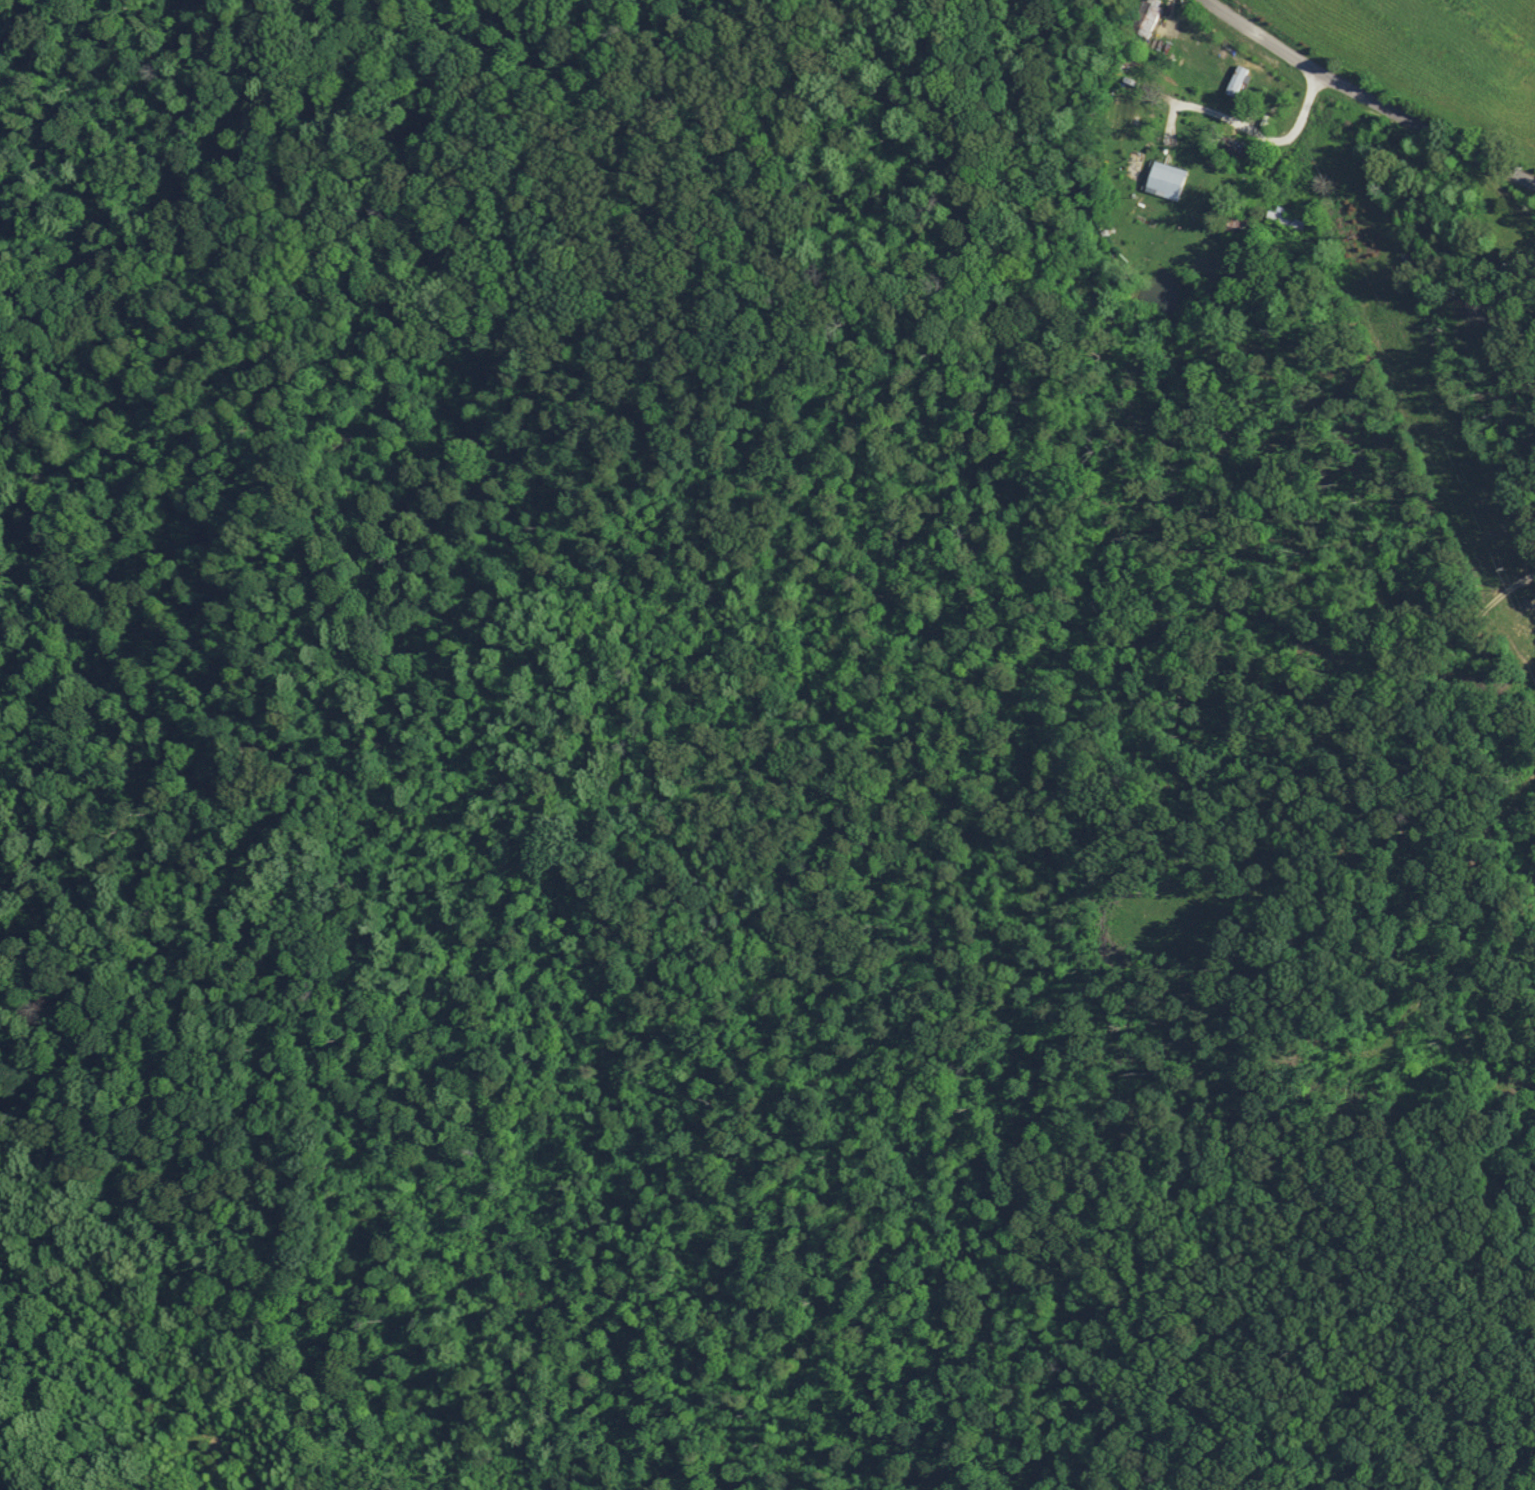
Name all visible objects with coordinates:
building: (1144, 16)
road: (1234, 20)
building: (1122, 115)
road: (1398, 117)
building: (1230, 149)
building: (1163, 179)
building: (1282, 216)

